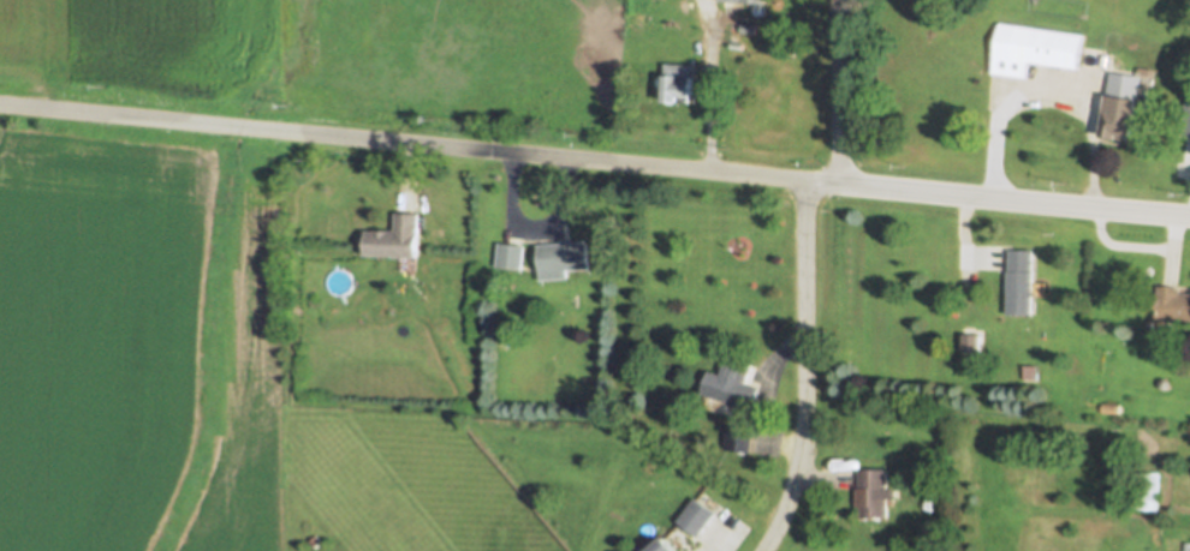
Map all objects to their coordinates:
building: (748, 1)
building: (746, 29)
building: (1033, 49)
building: (678, 83)
road: (707, 90)
road: (834, 91)
road: (1051, 103)
building: (1123, 107)
road: (400, 140)
road: (995, 197)
building: (394, 239)
building: (508, 257)
building: (560, 259)
building: (1022, 282)
building: (1174, 306)
road: (802, 369)
building: (732, 385)
building: (737, 439)
building: (1147, 492)
building: (873, 495)
building: (696, 519)
building: (664, 547)

